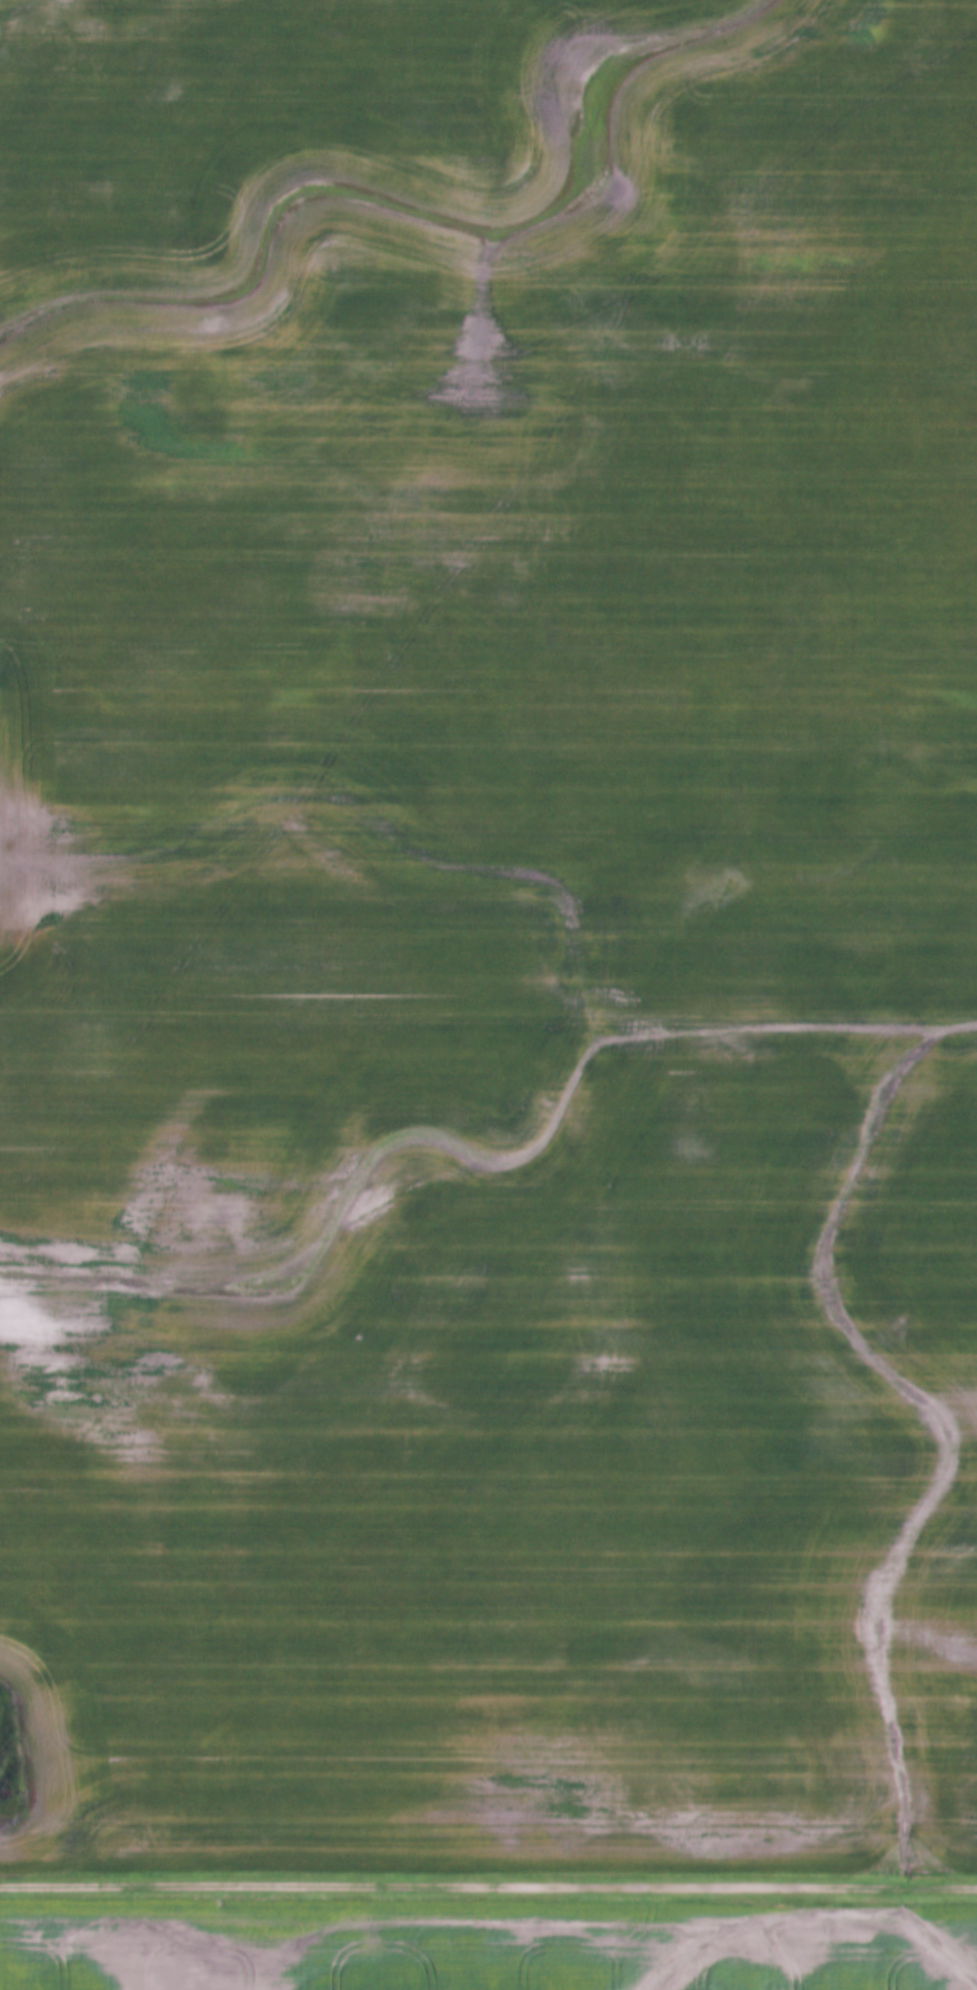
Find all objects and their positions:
road: (488, 1891)

